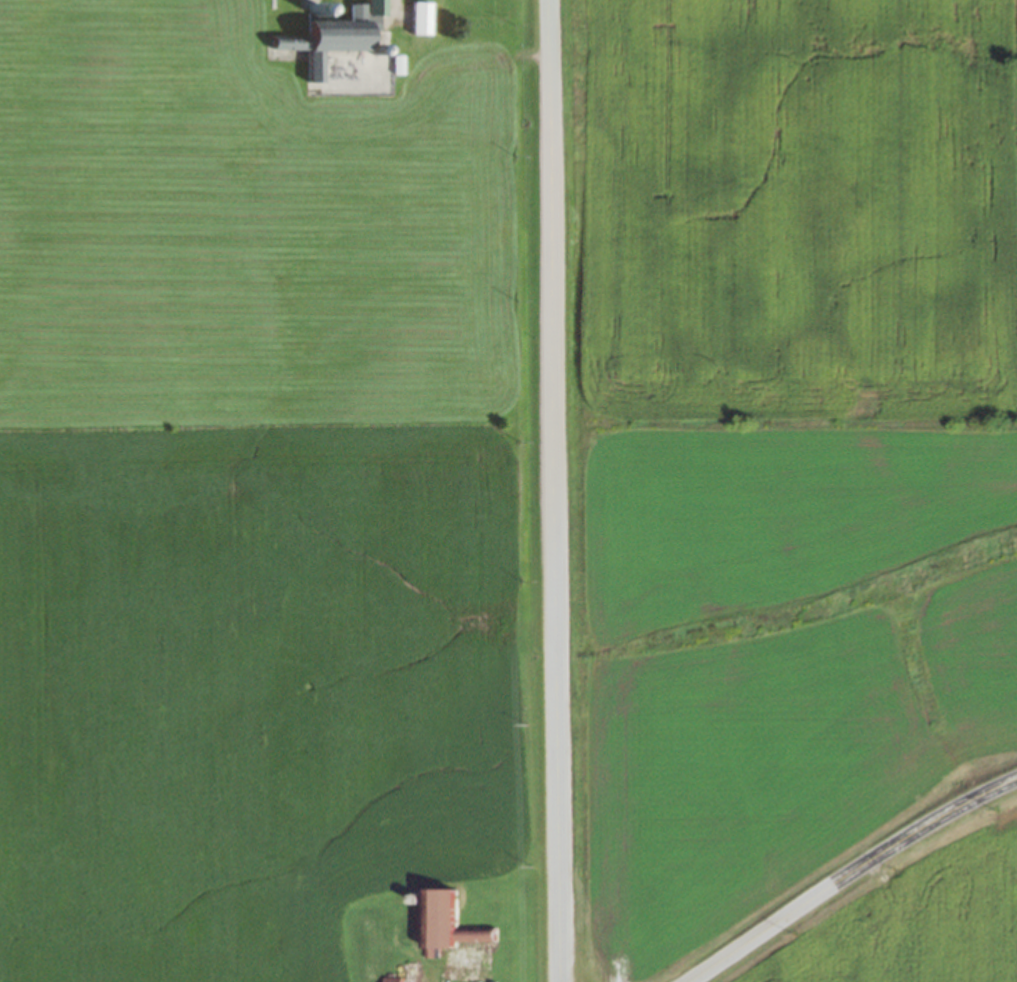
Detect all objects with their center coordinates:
building: (339, 35)
road: (554, 490)
road: (849, 875)
building: (454, 923)
building: (411, 971)

